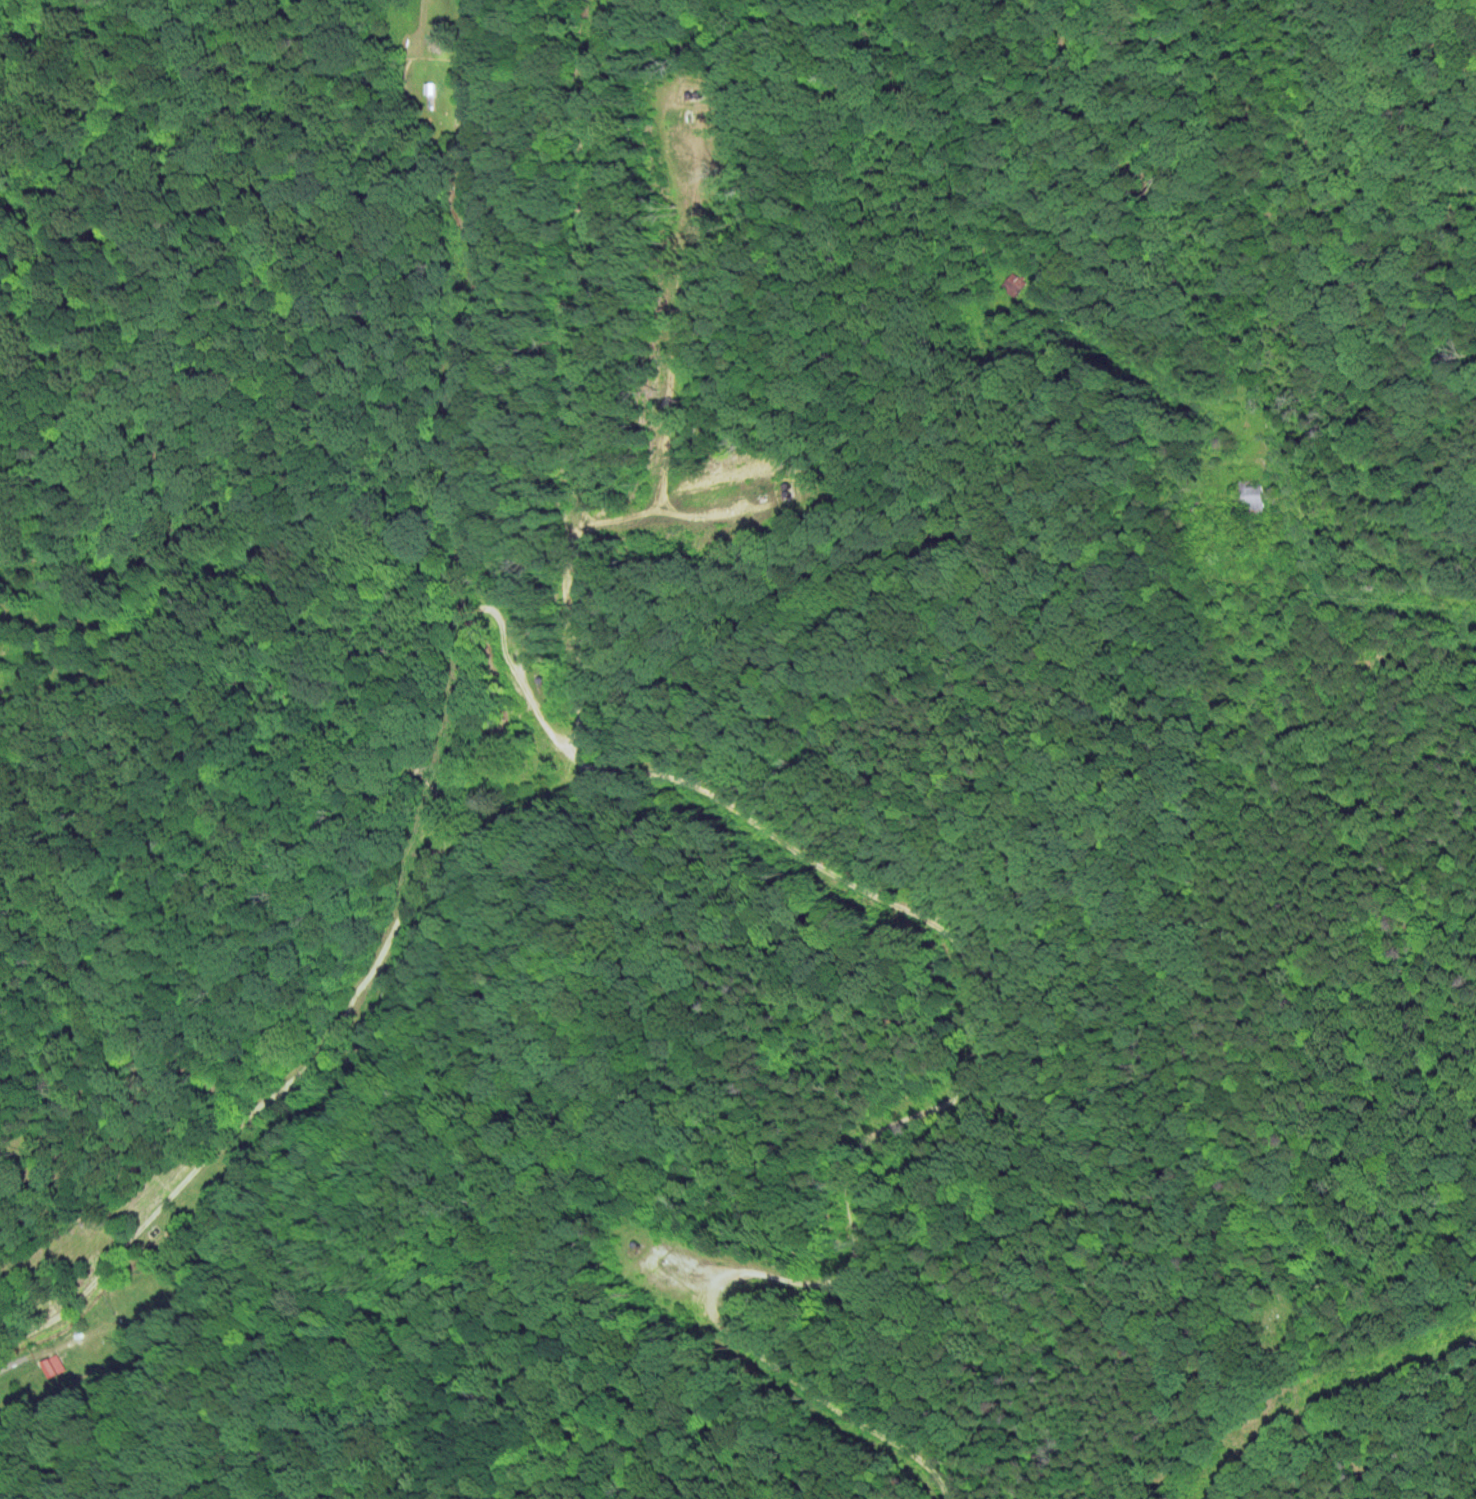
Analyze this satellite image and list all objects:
road: (1223, 562)
road: (427, 715)
building: (53, 1365)

